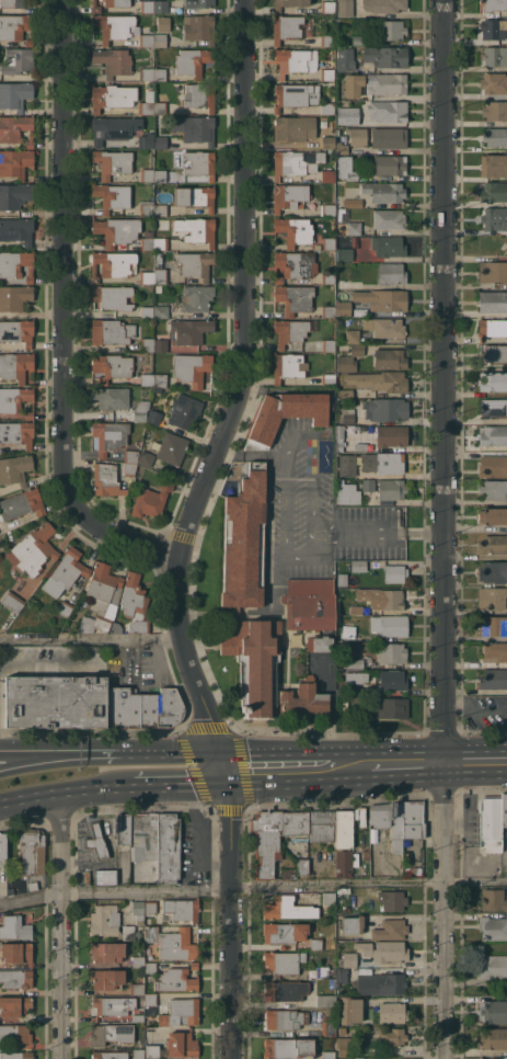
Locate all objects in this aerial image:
building: (12, 3)
building: (116, 3)
building: (198, 3)
building: (289, 3)
building: (383, 4)
building: (493, 4)
building: (147, 5)
building: (161, 5)
building: (95, 7)
building: (329, 7)
building: (345, 8)
building: (163, 23)
building: (16, 26)
building: (198, 27)
building: (286, 27)
building: (120, 29)
building: (388, 29)
building: (493, 29)
building: (160, 38)
building: (327, 39)
building: (358, 39)
building: (385, 56)
building: (494, 56)
building: (344, 58)
building: (18, 60)
building: (296, 60)
building: (113, 61)
building: (192, 61)
building: (147, 73)
building: (160, 73)
building: (327, 73)
building: (494, 82)
building: (387, 83)
building: (150, 84)
building: (353, 84)
building: (14, 94)
building: (296, 94)
building: (199, 95)
building: (112, 96)
building: (147, 103)
building: (160, 107)
building: (327, 107)
building: (495, 110)
building: (388, 111)
building: (347, 115)
building: (114, 127)
building: (295, 127)
building: (16, 128)
building: (199, 129)
building: (338, 130)
building: (357, 136)
building: (389, 137)
building: (495, 137)
building: (146, 139)
building: (329, 140)
building: (160, 141)
building: (342, 146)
building: (15, 161)
building: (112, 162)
building: (295, 162)
building: (200, 163)
building: (391, 164)
building: (493, 166)
building: (345, 168)
building: (327, 172)
building: (147, 174)
building: (160, 175)
building: (383, 191)
building: (493, 191)
building: (14, 194)
building: (112, 195)
building: (195, 196)
building: (289, 196)
building: (350, 202)
building: (147, 207)
building: (160, 209)
building: (329, 209)
building: (341, 213)
building: (389, 218)
building: (494, 218)
building: (354, 228)
building: (16, 229)
building: (117, 230)
building: (200, 230)
building: (295, 230)
building: (147, 242)
building: (161, 242)
building: (329, 242)
building: (388, 246)
building: (344, 254)
building: (158, 259)
building: (15, 264)
building: (113, 264)
building: (196, 264)
building: (293, 264)
building: (493, 272)
building: (391, 273)
building: (160, 275)
building: (147, 276)
building: (327, 277)
building: (158, 288)
building: (113, 296)
building: (14, 297)
building: (196, 297)
building: (293, 298)
building: (382, 298)
building: (493, 301)
building: (343, 307)
road: (66, 309)
building: (147, 311)
building: (161, 311)
building: (329, 311)
building: (384, 327)
building: (492, 327)
building: (191, 330)
building: (16, 331)
building: (111, 331)
building: (289, 331)
building: (352, 335)
building: (161, 343)
building: (147, 344)
building: (329, 344)
building: (494, 353)
building: (349, 357)
building: (389, 358)
building: (15, 365)
building: (112, 366)
building: (288, 366)
building: (191, 367)
building: (147, 378)
building: (327, 378)
building: (160, 379)
building: (379, 380)
building: (492, 380)
building: (130, 382)
road: (237, 392)
building: (345, 392)
building: (112, 397)
building: (13, 398)
building: (493, 408)
building: (387, 409)
building: (140, 410)
building: (184, 410)
building: (286, 413)
building: (27, 414)
building: (347, 415)
building: (154, 417)
building: (16, 432)
building: (108, 435)
building: (391, 435)
building: (493, 435)
building: (339, 436)
building: (327, 441)
building: (360, 446)
building: (171, 447)
building: (130, 455)
building: (146, 458)
building: (388, 463)
road: (287, 465)
building: (493, 466)
building: (14, 468)
building: (128, 468)
building: (347, 470)
building: (106, 479)
building: (368, 485)
building: (391, 489)
building: (494, 489)
building: (346, 493)
building: (151, 498)
building: (21, 503)
building: (493, 515)
road: (442, 529)
road: (378, 533)
building: (244, 540)
building: (494, 544)
building: (32, 549)
building: (358, 566)
building: (66, 571)
building: (493, 571)
building: (394, 572)
building: (342, 579)
building: (102, 597)
building: (390, 597)
building: (491, 597)
building: (12, 601)
building: (134, 603)
building: (309, 603)
building: (65, 607)
building: (238, 610)
building: (355, 610)
building: (8, 620)
building: (389, 625)
building: (493, 626)
building: (116, 627)
building: (346, 630)
road: (154, 644)
building: (319, 644)
building: (494, 651)
building: (392, 652)
building: (358, 662)
road: (50, 664)
building: (256, 664)
building: (356, 676)
building: (493, 679)
building: (391, 680)
building: (353, 690)
building: (306, 698)
building: (55, 701)
building: (124, 707)
building: (392, 707)
building: (161, 708)
building: (506, 708)
road: (105, 732)
road: (46, 749)
road: (160, 749)
road: (46, 756)
road: (474, 760)
road: (393, 762)
road: (284, 765)
traffic signals: (224, 767)
road: (209, 775)
road: (96, 786)
road: (367, 798)
road: (113, 807)
building: (504, 809)
building: (359, 815)
building: (380, 815)
building: (413, 819)
building: (489, 822)
building: (321, 824)
building: (397, 827)
building: (123, 828)
building: (344, 829)
building: (143, 835)
building: (274, 835)
building: (96, 841)
building: (164, 847)
building: (174, 847)
building: (2, 849)
building: (32, 850)
building: (365, 854)
building: (344, 863)
building: (302, 866)
building: (19, 872)
building: (289, 873)
building: (105, 876)
building: (32, 885)
road: (253, 889)
building: (10, 890)
building: (327, 899)
building: (392, 899)
building: (493, 899)
building: (150, 908)
building: (287, 908)
building: (346, 908)
building: (182, 909)
building: (138, 911)
road: (230, 912)
building: (104, 920)
road: (60, 924)
building: (352, 924)
building: (14, 926)
building: (493, 927)
building: (390, 930)
building: (128, 932)
building: (284, 932)
building: (174, 943)
building: (315, 944)
building: (107, 950)
building: (383, 950)
building: (16, 952)
building: (347, 959)
building: (284, 960)
building: (137, 961)
building: (194, 966)
building: (493, 966)
building: (151, 967)
building: (324, 971)
building: (342, 975)
building: (15, 978)
building: (107, 978)
building: (176, 980)
building: (332, 983)
building: (380, 983)
building: (137, 989)
building: (286, 990)
building: (141, 997)
building: (325, 1000)
building: (150, 1003)
building: (14, 1005)
building: (112, 1005)
building: (349, 1010)
building: (183, 1011)
building: (493, 1011)
building: (391, 1012)
building: (137, 1017)
building: (285, 1018)
building: (327, 1026)
building: (342, 1030)
building: (14, 1033)
building: (111, 1033)
building: (391, 1036)
building: (494, 1038)
building: (174, 1045)
building: (345, 1046)
building: (287, 1047)
building: (139, 1054)
building: (15, 1055)
building: (108, 1055)
building: (329, 1055)
building: (356, 1058)
building: (495, 1058)

